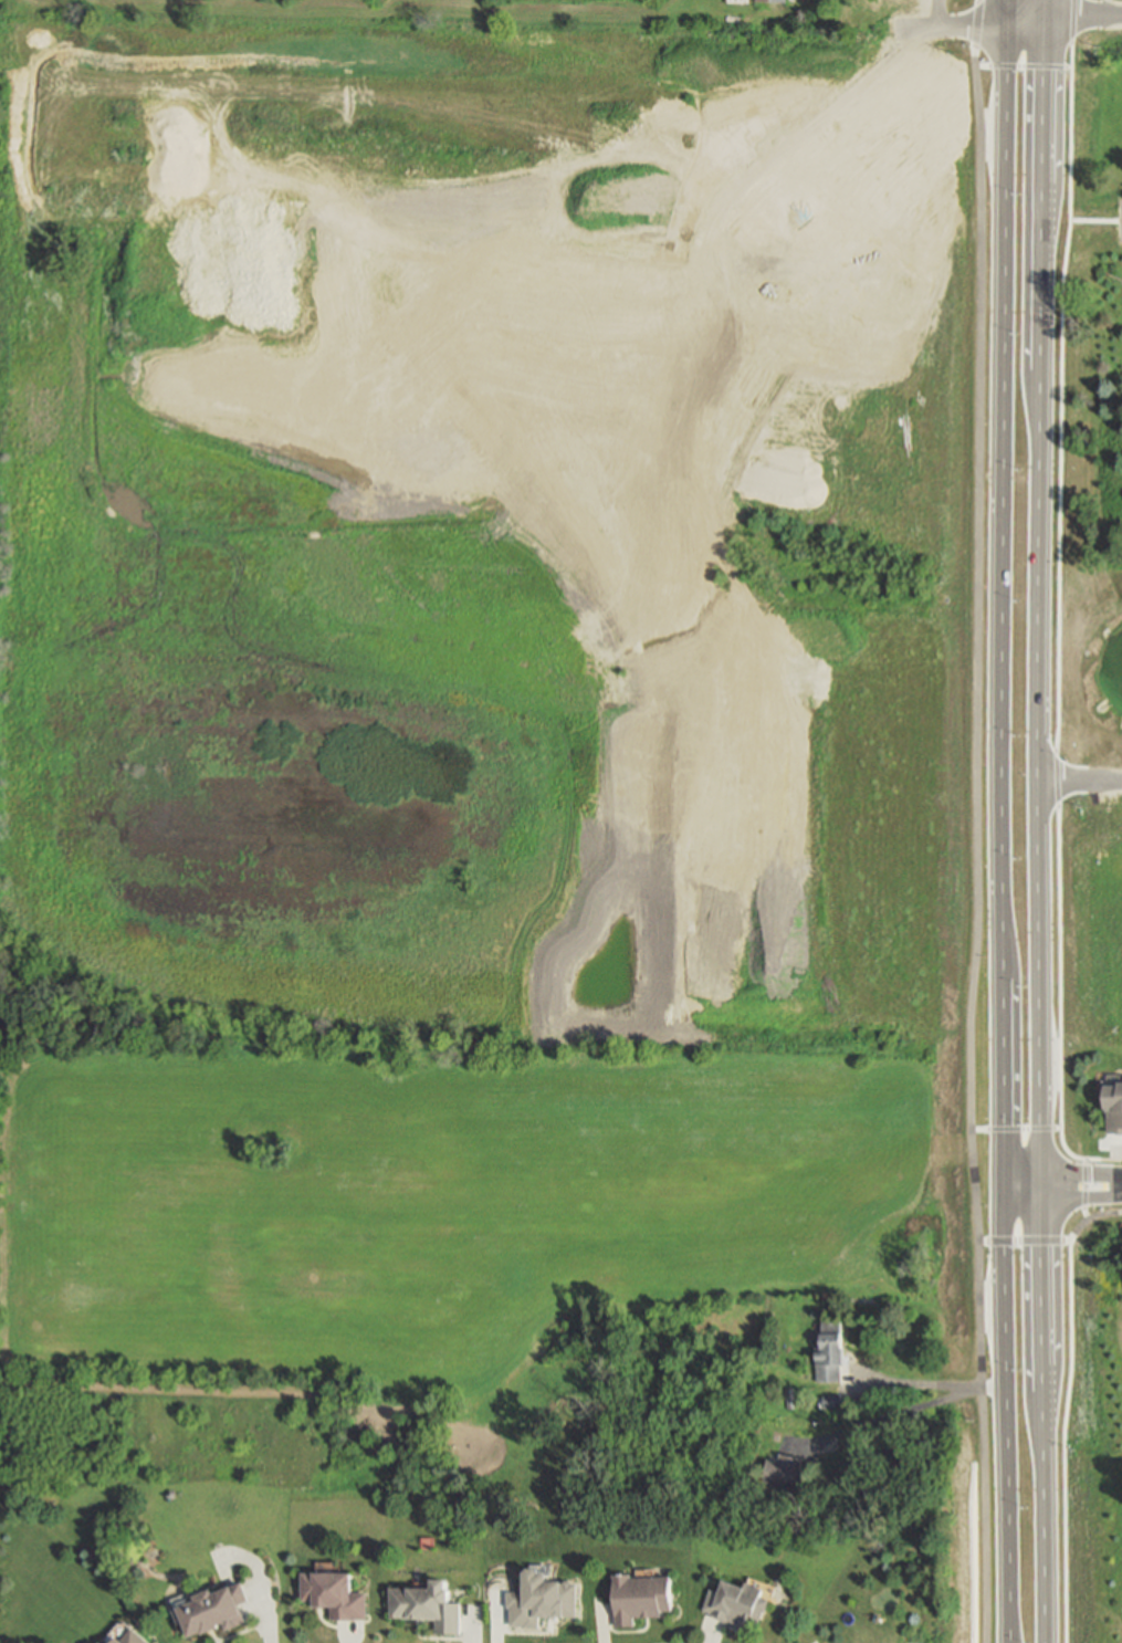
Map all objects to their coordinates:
building: (772, 1)
road: (924, 7)
road: (523, 10)
road: (1083, 15)
road: (524, 24)
road: (1025, 69)
building: (929, 83)
building: (926, 130)
building: (747, 163)
road: (1095, 221)
road: (1060, 586)
crop: (471, 728)
road: (1002, 758)
road: (1078, 782)
road: (1036, 820)
road: (978, 821)
park: (1088, 924)
building: (1111, 1106)
road: (1016, 1130)
road: (1103, 1161)
road: (1080, 1175)
road: (1023, 1182)
road: (1084, 1191)
road: (1079, 1196)
road: (1025, 1242)
building: (830, 1352)
road: (909, 1382)
building: (790, 1398)
building: (830, 1401)
road: (913, 1406)
road: (1066, 1411)
building: (785, 1471)
road: (1007, 1580)
building: (338, 1594)
building: (641, 1597)
building: (542, 1600)
building: (738, 1603)
building: (429, 1604)
building: (216, 1608)
building: (132, 1637)

